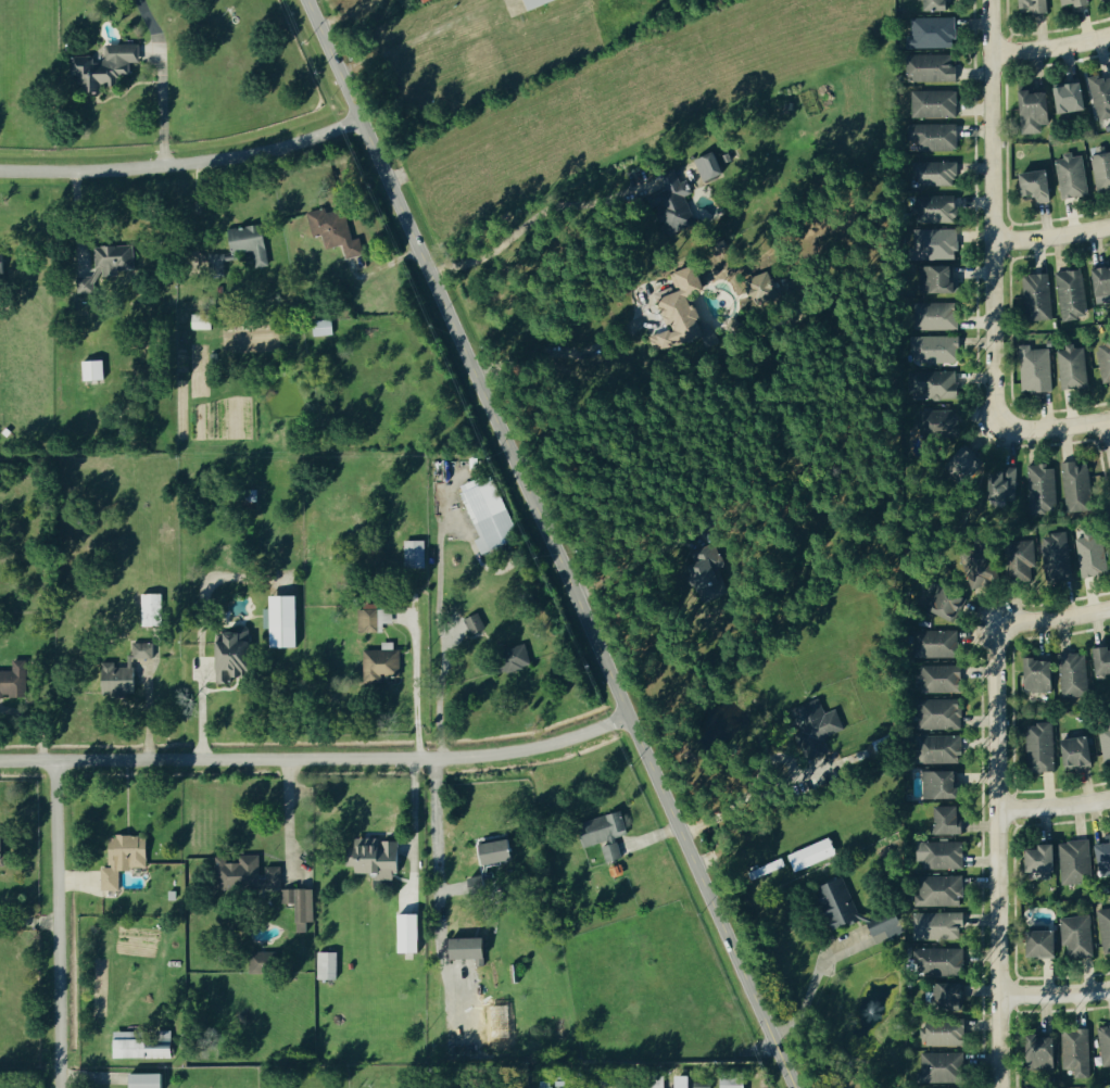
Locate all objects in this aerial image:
building: (1080, 1)
building: (942, 4)
building: (1036, 5)
building: (934, 31)
road: (1050, 47)
building: (123, 55)
building: (86, 67)
building: (934, 67)
building: (1102, 94)
building: (1074, 96)
building: (935, 102)
building: (1037, 110)
road: (161, 113)
building: (921, 132)
road: (182, 162)
building: (714, 165)
building: (1102, 168)
building: (937, 172)
building: (1074, 175)
building: (1040, 184)
building: (676, 192)
building: (938, 210)
road: (991, 213)
road: (531, 222)
building: (337, 229)
road: (1050, 236)
building: (252, 237)
building: (939, 242)
building: (116, 256)
building: (218, 262)
building: (1042, 277)
building: (941, 278)
building: (1103, 282)
building: (89, 286)
building: (1074, 293)
building: (686, 301)
building: (938, 315)
building: (200, 322)
building: (320, 328)
building: (660, 339)
building: (937, 349)
building: (1106, 360)
building: (1075, 367)
building: (1037, 368)
building: (92, 371)
building: (942, 384)
building: (950, 423)
road: (1054, 428)
road: (1108, 429)
building: (969, 465)
building: (1009, 481)
building: (1079, 486)
building: (1044, 488)
building: (491, 513)
road: (551, 543)
building: (413, 554)
building: (1058, 556)
building: (996, 567)
road: (625, 568)
building: (1092, 569)
building: (706, 571)
building: (951, 599)
building: (150, 610)
building: (387, 615)
road: (1050, 618)
building: (369, 620)
building: (281, 621)
building: (477, 623)
building: (941, 643)
building: (142, 649)
building: (519, 655)
building: (237, 656)
building: (1103, 659)
building: (382, 663)
building: (1075, 673)
building: (1043, 674)
building: (943, 678)
building: (14, 680)
road: (415, 687)
road: (438, 694)
road: (202, 710)
building: (942, 713)
building: (822, 718)
building: (1043, 746)
building: (939, 748)
building: (1079, 750)
road: (316, 758)
building: (943, 784)
road: (750, 794)
road: (1051, 806)
road: (287, 817)
building: (951, 820)
building: (608, 825)
road: (414, 827)
building: (3, 848)
building: (502, 850)
building: (1106, 853)
building: (810, 855)
building: (943, 855)
building: (378, 857)
road: (993, 858)
building: (125, 859)
building: (1046, 859)
building: (1076, 861)
building: (765, 869)
building: (240, 870)
building: (275, 876)
building: (941, 890)
road: (438, 899)
building: (841, 902)
building: (304, 906)
building: (1106, 923)
road: (56, 924)
building: (939, 925)
building: (886, 926)
building: (407, 933)
building: (1080, 934)
building: (1046, 942)
building: (470, 948)
building: (943, 961)
building: (261, 962)
building: (326, 966)
road: (812, 984)
building: (954, 996)
road: (1051, 996)
building: (497, 1022)
building: (948, 1035)
building: (1106, 1038)
building: (1045, 1046)
building: (146, 1051)
building: (1080, 1051)
building: (943, 1066)
building: (144, 1080)
building: (731, 1080)
building: (656, 1081)
building: (680, 1083)
building: (701, 1085)

